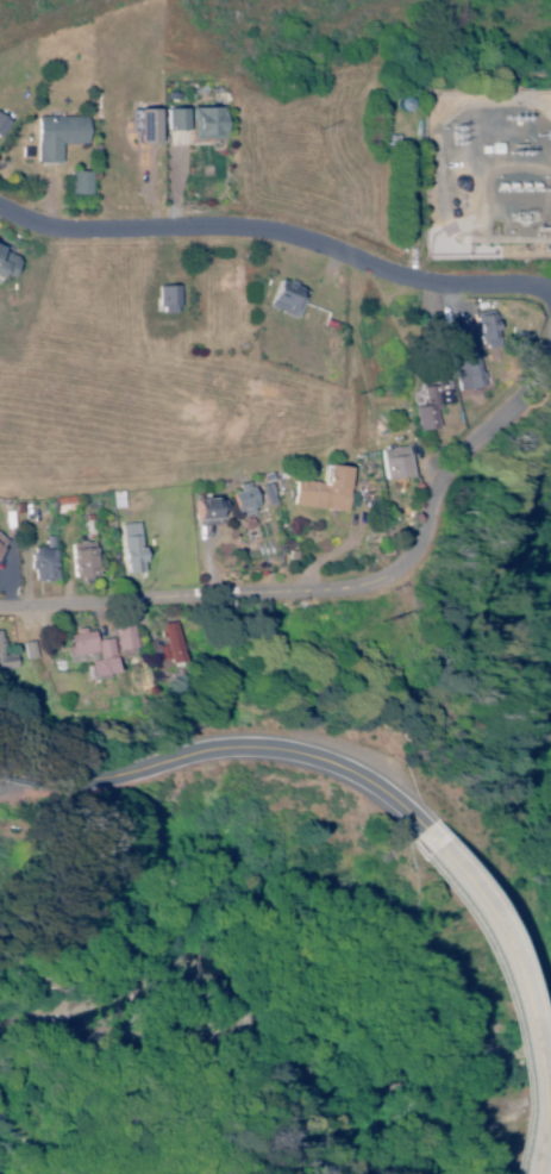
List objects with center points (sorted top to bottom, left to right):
building: (175, 117)
building: (206, 121)
building: (145, 124)
building: (60, 137)
road: (277, 232)
building: (171, 301)
building: (290, 301)
building: (491, 333)
building: (470, 373)
building: (432, 413)
building: (399, 466)
building: (324, 498)
building: (248, 502)
building: (211, 513)
building: (4, 545)
building: (134, 550)
building: (86, 562)
building: (46, 566)
road: (333, 587)
building: (127, 643)
building: (173, 647)
building: (95, 655)
building: (7, 661)
road: (219, 751)
road: (364, 950)
road: (516, 989)
park: (201, 1014)

